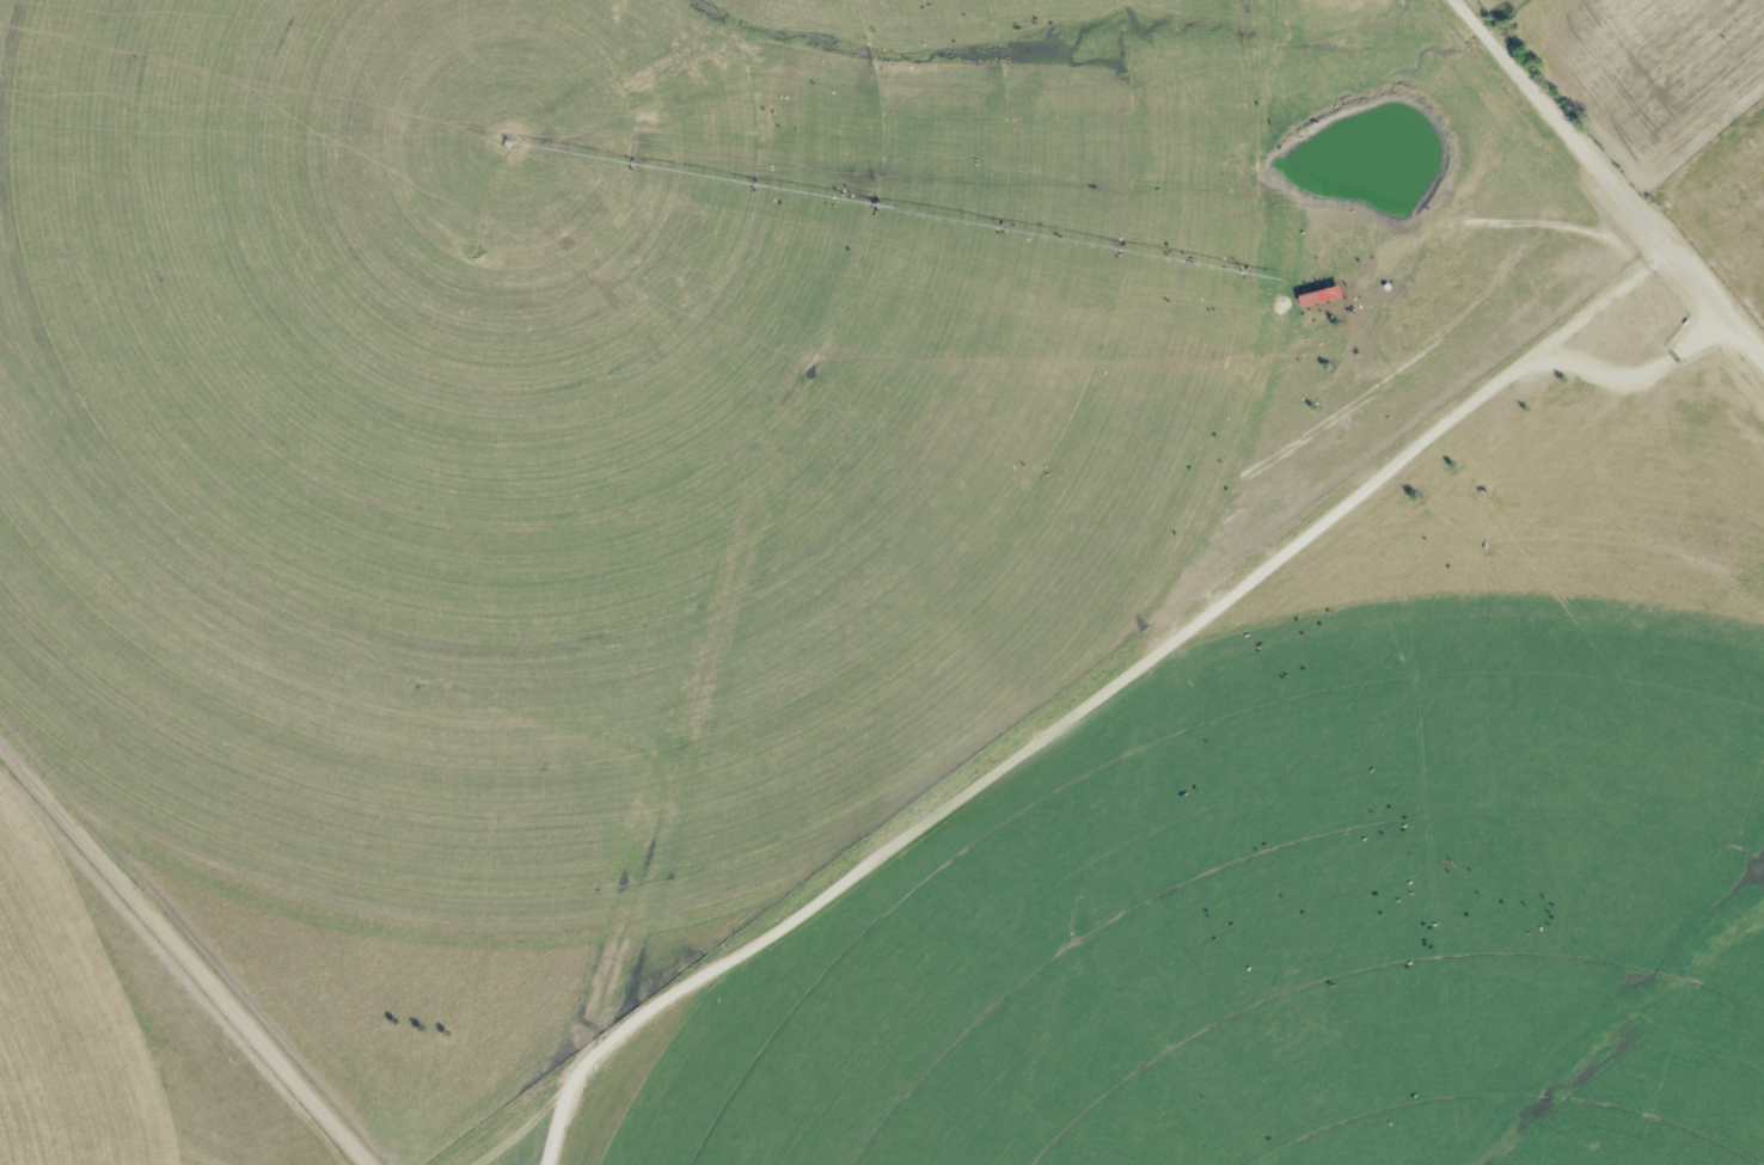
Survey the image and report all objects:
road: (1607, 184)
road: (1085, 699)

